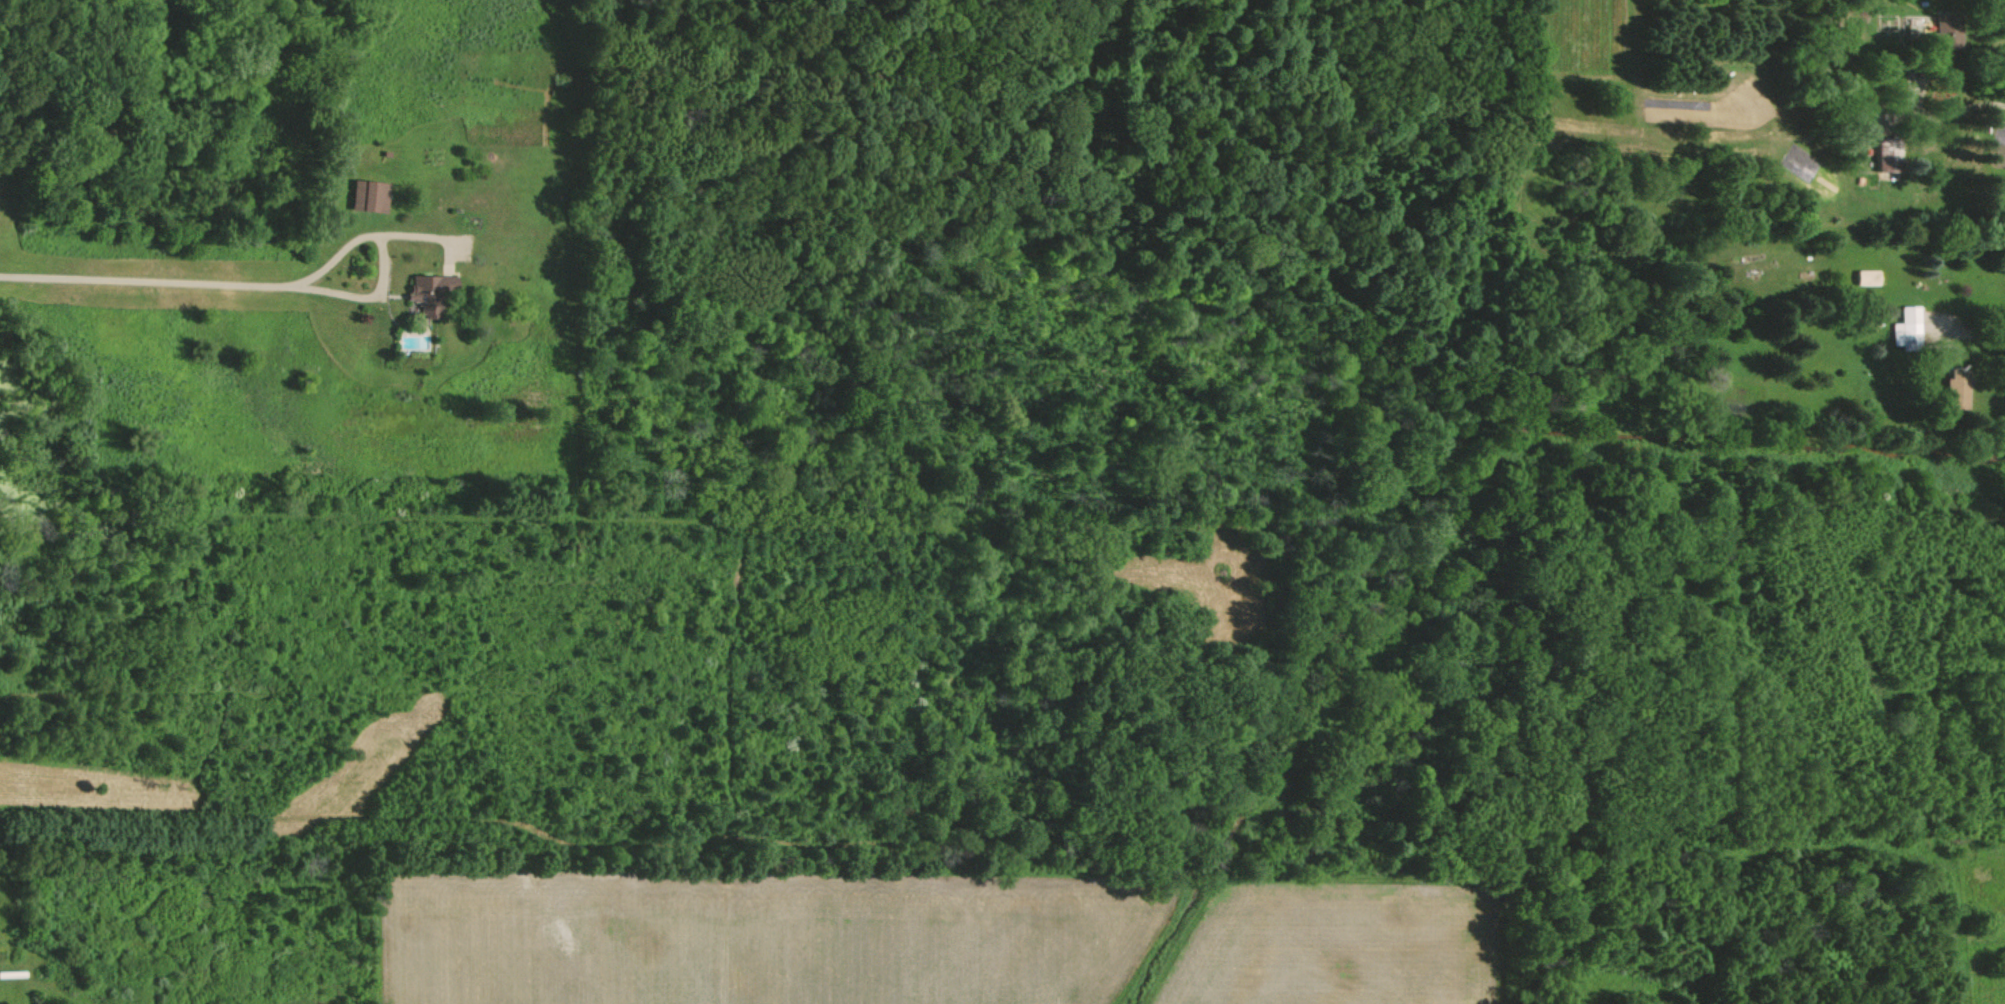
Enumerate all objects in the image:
building: (1945, 38)
road: (1970, 106)
building: (371, 195)
building: (1869, 277)
road: (225, 282)
building: (427, 287)
building: (1910, 327)
road: (1977, 334)
building: (1959, 392)

